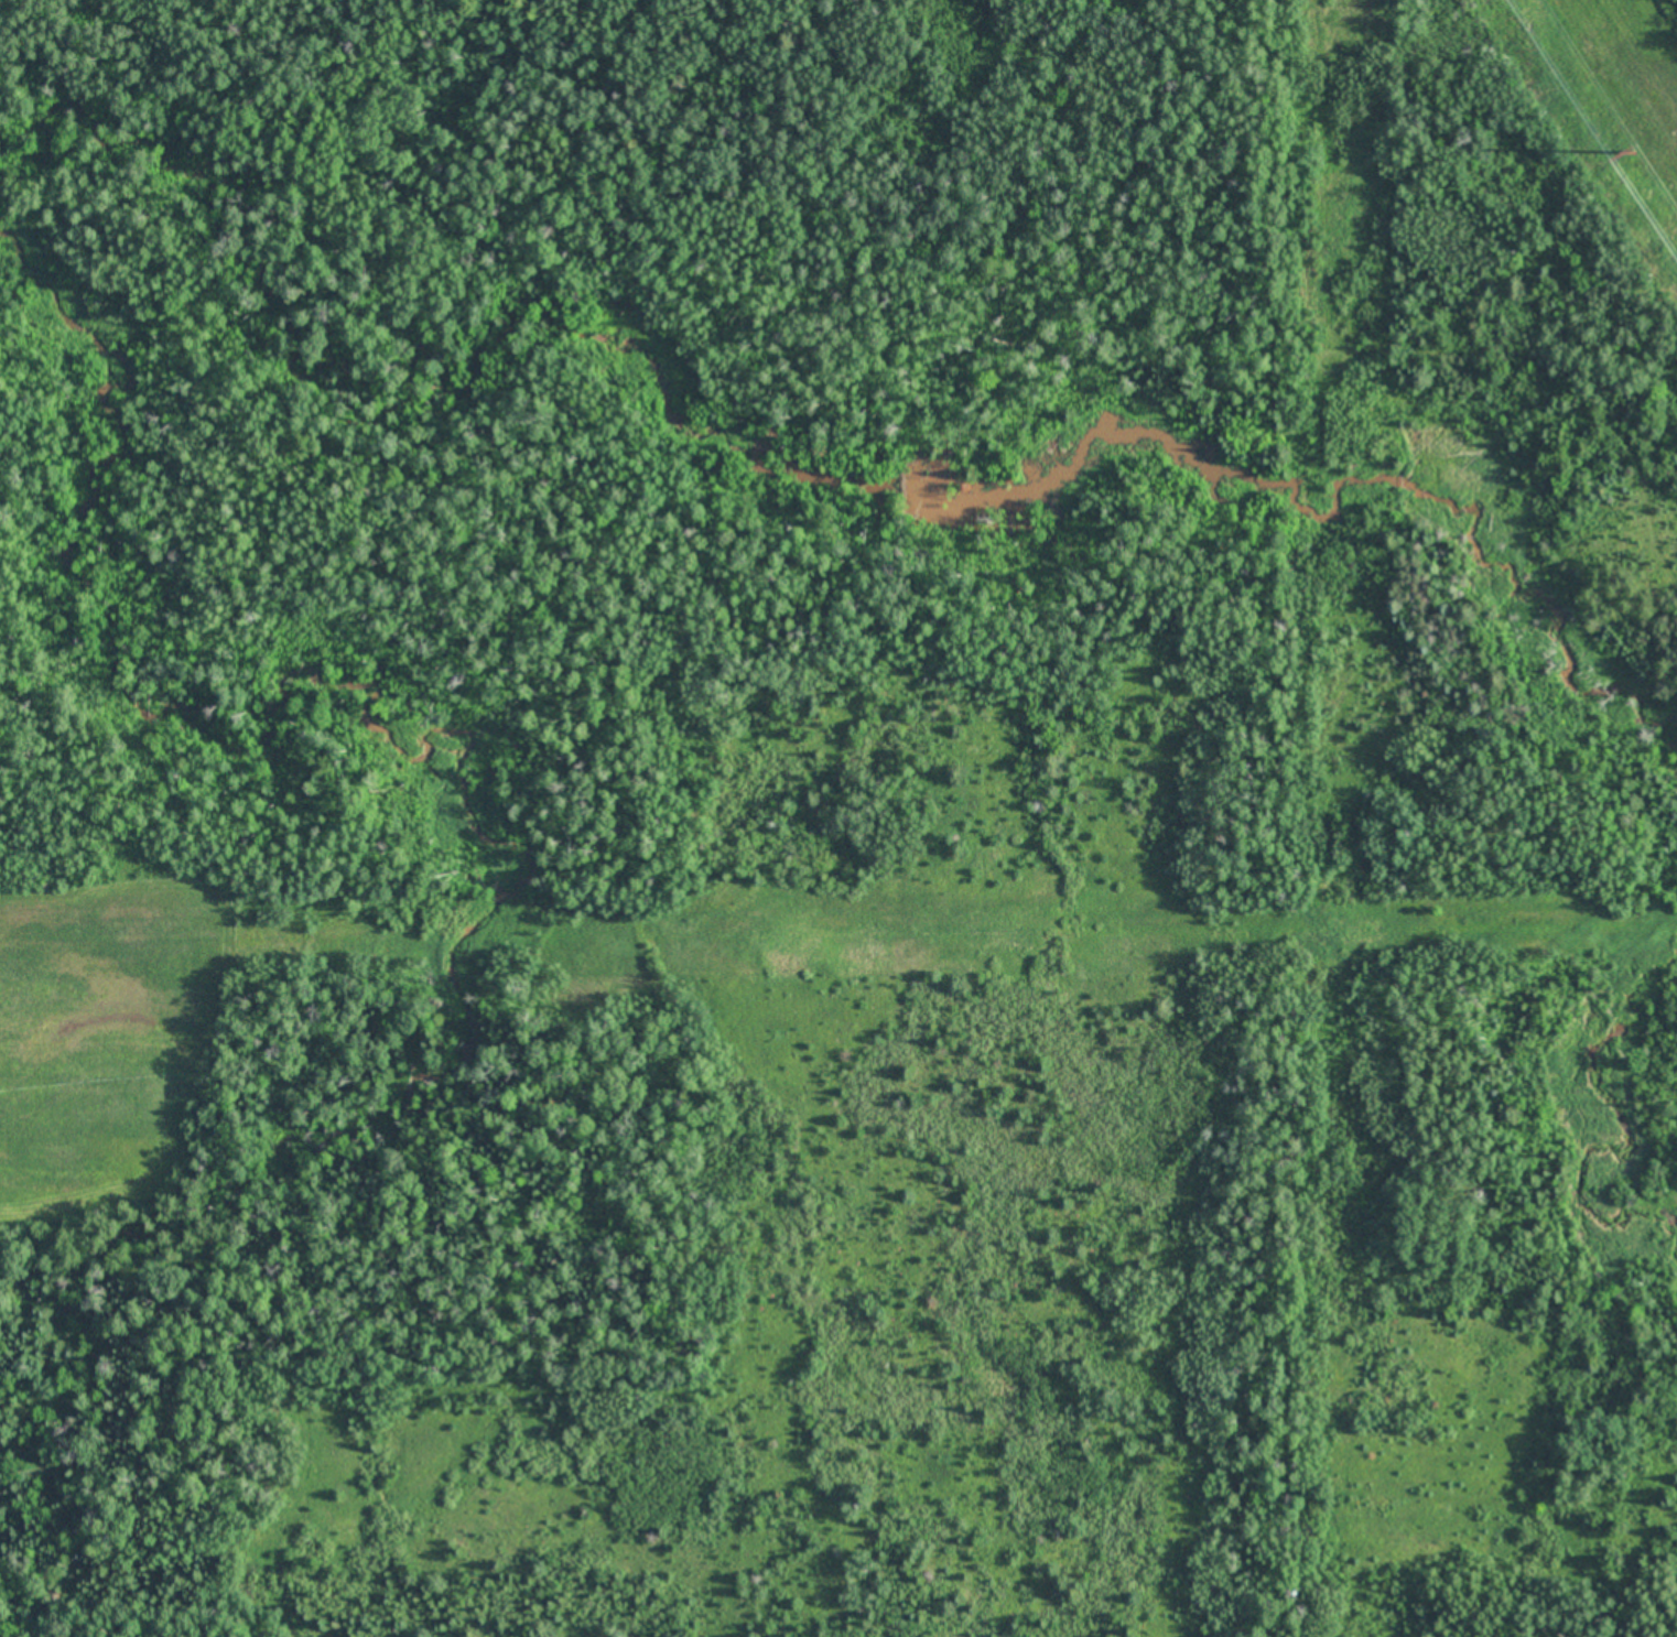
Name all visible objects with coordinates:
power tower: (1629, 155)

